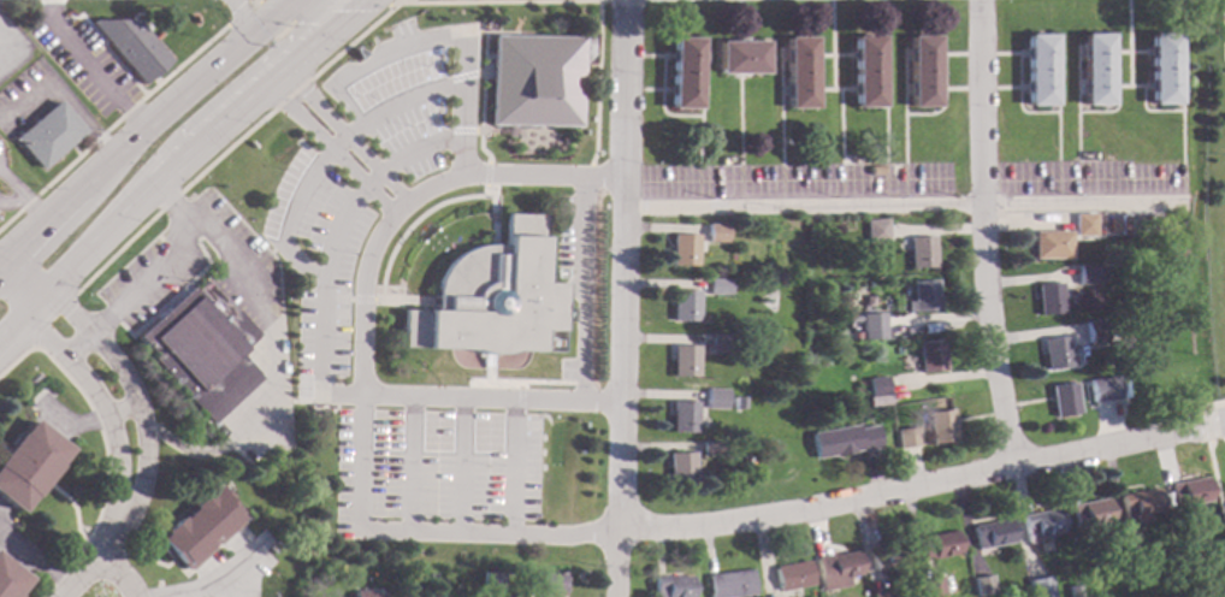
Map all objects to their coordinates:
road: (327, 0)
road: (239, 11)
road: (377, 19)
road: (244, 24)
building: (131, 47)
road: (391, 53)
building: (739, 57)
road: (90, 66)
building: (1094, 69)
building: (1161, 69)
building: (921, 70)
building: (1038, 70)
building: (865, 71)
building: (682, 72)
building: (798, 72)
road: (461, 75)
road: (481, 81)
building: (533, 81)
road: (61, 100)
road: (111, 123)
road: (142, 130)
road: (460, 130)
road: (501, 131)
building: (48, 134)
road: (343, 138)
road: (200, 148)
road: (329, 152)
building: (875, 170)
road: (486, 177)
road: (365, 185)
road: (24, 197)
road: (904, 201)
road: (170, 205)
road: (40, 208)
road: (420, 217)
building: (1083, 224)
building: (1111, 224)
building: (1122, 224)
building: (875, 231)
building: (714, 232)
road: (986, 232)
road: (493, 235)
building: (1051, 244)
building: (681, 249)
building: (921, 252)
building: (1101, 271)
building: (1087, 276)
road: (19, 282)
road: (146, 282)
road: (570, 286)
building: (716, 286)
road: (321, 289)
road: (582, 289)
road: (172, 296)
building: (489, 296)
building: (921, 296)
road: (348, 297)
road: (623, 298)
building: (1048, 298)
road: (404, 300)
building: (683, 305)
building: (568, 314)
road: (48, 318)
building: (852, 319)
road: (18, 321)
road: (262, 325)
building: (870, 326)
building: (1094, 331)
building: (854, 333)
building: (718, 343)
road: (75, 344)
building: (201, 349)
building: (1054, 353)
building: (929, 356)
building: (682, 360)
road: (359, 379)
road: (521, 382)
building: (858, 386)
building: (876, 386)
building: (1094, 389)
road: (129, 391)
road: (520, 391)
building: (714, 398)
building: (1061, 398)
road: (95, 402)
building: (735, 402)
road: (1214, 403)
road: (118, 407)
building: (681, 416)
road: (69, 424)
road: (1205, 425)
building: (940, 426)
building: (906, 437)
building: (842, 441)
road: (103, 447)
building: (709, 448)
road: (1, 449)
road: (185, 453)
building: (26, 463)
road: (412, 465)
road: (461, 466)
road: (514, 468)
building: (679, 468)
road: (562, 469)
road: (923, 483)
road: (1217, 485)
building: (1190, 492)
building: (1140, 506)
road: (72, 507)
building: (1091, 514)
building: (1041, 524)
building: (199, 528)
building: (993, 533)
road: (110, 534)
road: (241, 544)
building: (939, 545)
road: (36, 556)
building: (890, 556)
building: (1134, 565)
road: (211, 569)
building: (838, 569)
road: (120, 572)
road: (190, 572)
road: (79, 574)
building: (793, 574)
building: (430, 578)
building: (10, 579)
road: (217, 579)
building: (492, 581)
road: (231, 583)
building: (546, 583)
building: (730, 584)
building: (673, 585)
building: (983, 586)
building: (1040, 586)
building: (934, 587)
road: (196, 593)
building: (365, 593)
building: (882, 593)
building: (1072, 593)
building: (912, 596)

